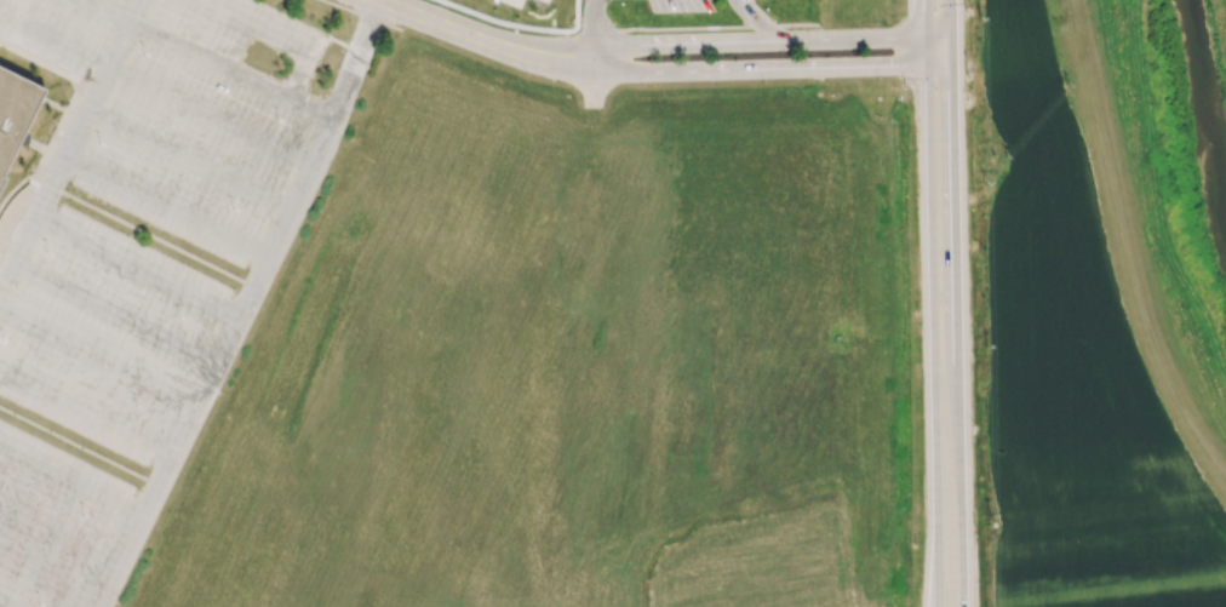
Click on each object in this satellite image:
parking lot: (511, 2)
parking lot: (678, 5)
road: (575, 13)
road: (361, 15)
road: (520, 18)
road: (926, 19)
road: (761, 22)
traffic signals: (926, 23)
road: (952, 25)
road: (716, 27)
road: (595, 29)
road: (605, 30)
road: (279, 35)
road: (57, 36)
road: (481, 40)
road: (774, 44)
road: (213, 59)
road: (613, 67)
traffic signals: (898, 67)
road: (795, 69)
traffic signals: (953, 80)
river: (1201, 110)
building: (18, 119)
road: (73, 147)
road: (39, 165)
road: (145, 235)
road: (1127, 242)
road: (955, 256)
parking lot: (141, 267)
road: (932, 287)
road: (250, 308)
road: (80, 447)
road: (961, 533)
road: (938, 572)

